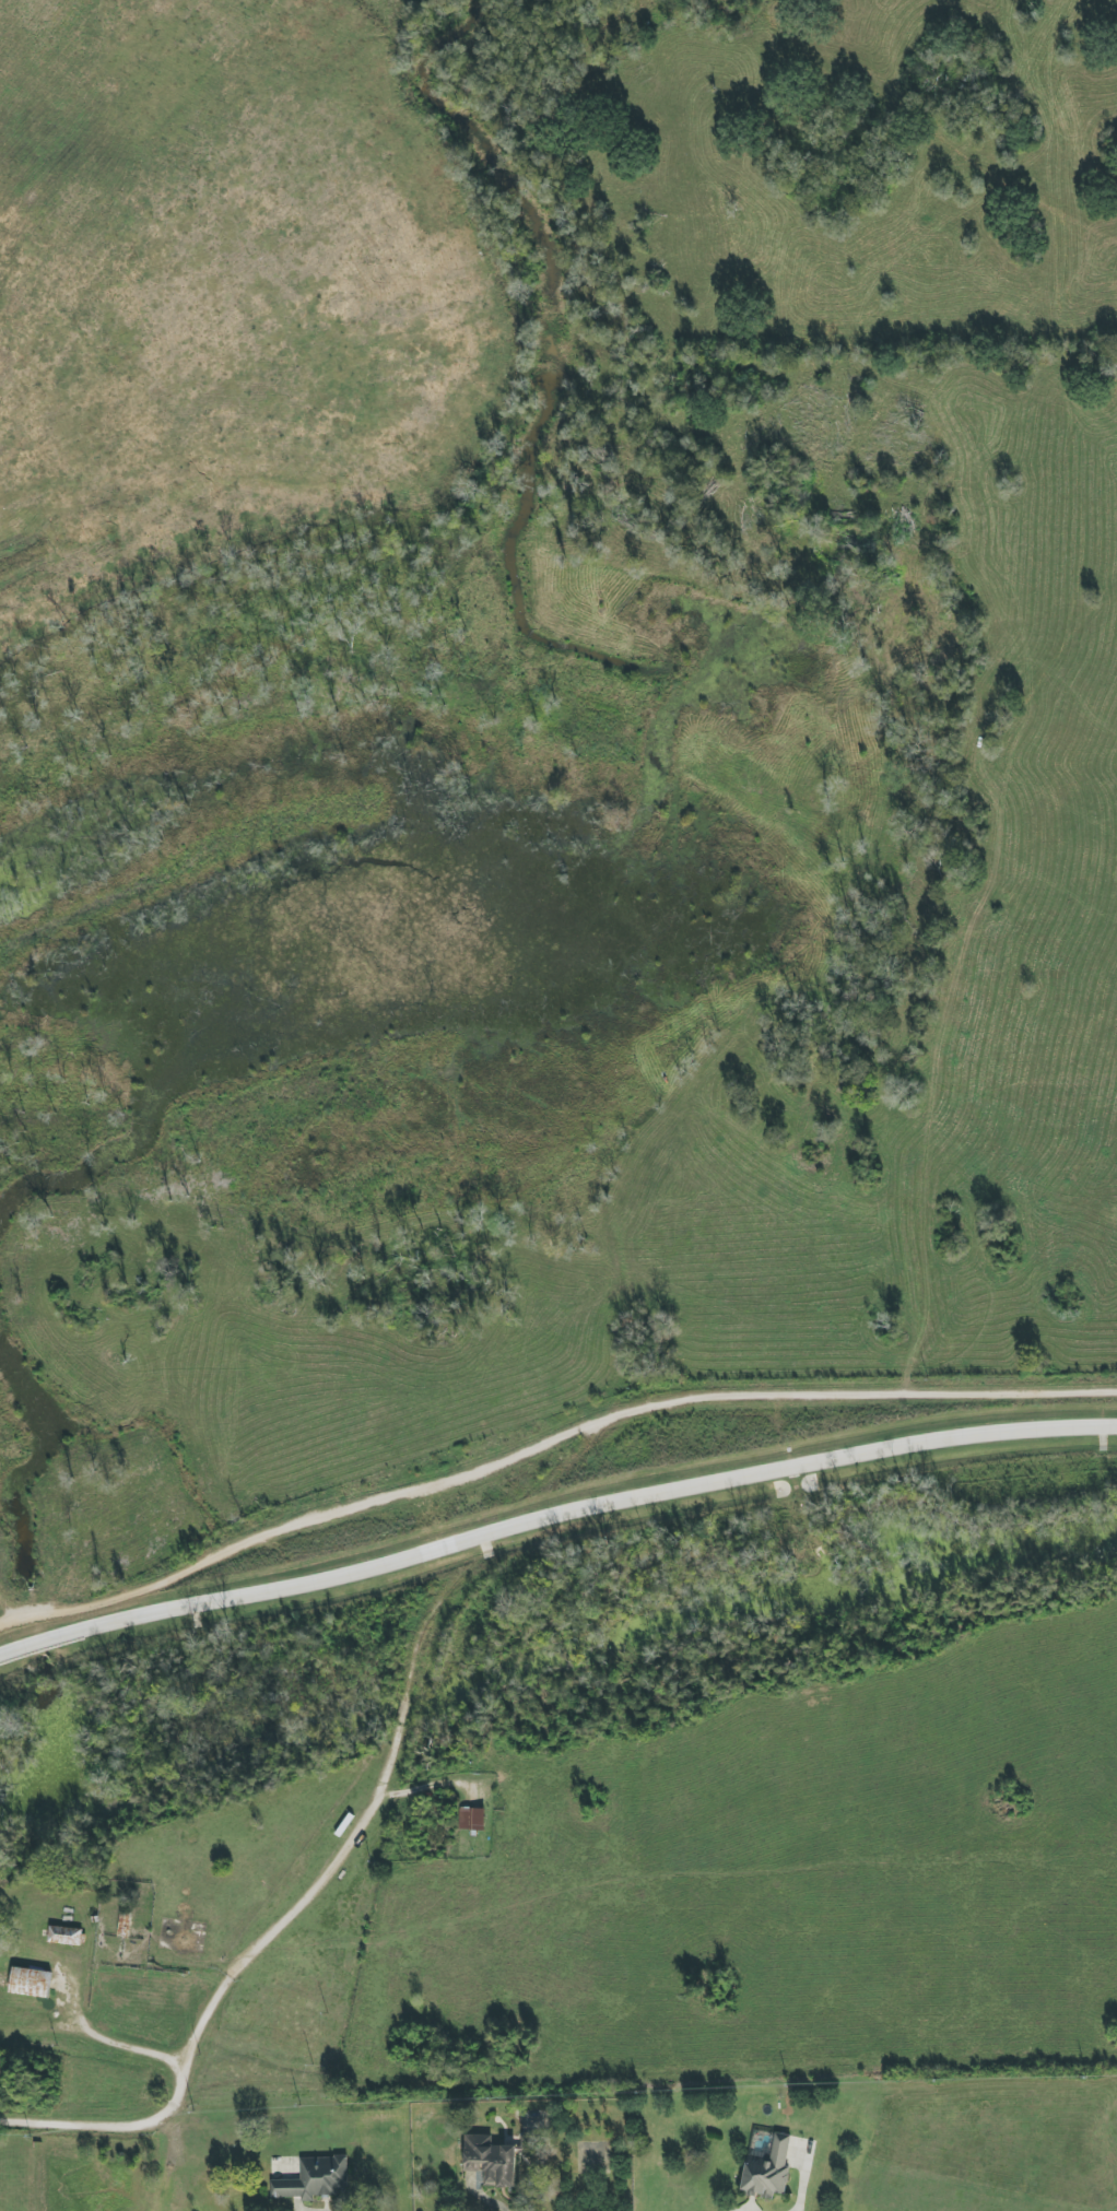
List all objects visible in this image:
road: (545, 1449)
road: (553, 1520)
road: (416, 1657)
river: (556, 1663)
building: (470, 1819)
building: (122, 1924)
building: (64, 1936)
road: (284, 1936)
building: (28, 1983)
road: (97, 2035)
road: (66, 2124)
building: (526, 2144)
building: (490, 2161)
building: (768, 2171)
building: (314, 2179)
road: (484, 2196)

